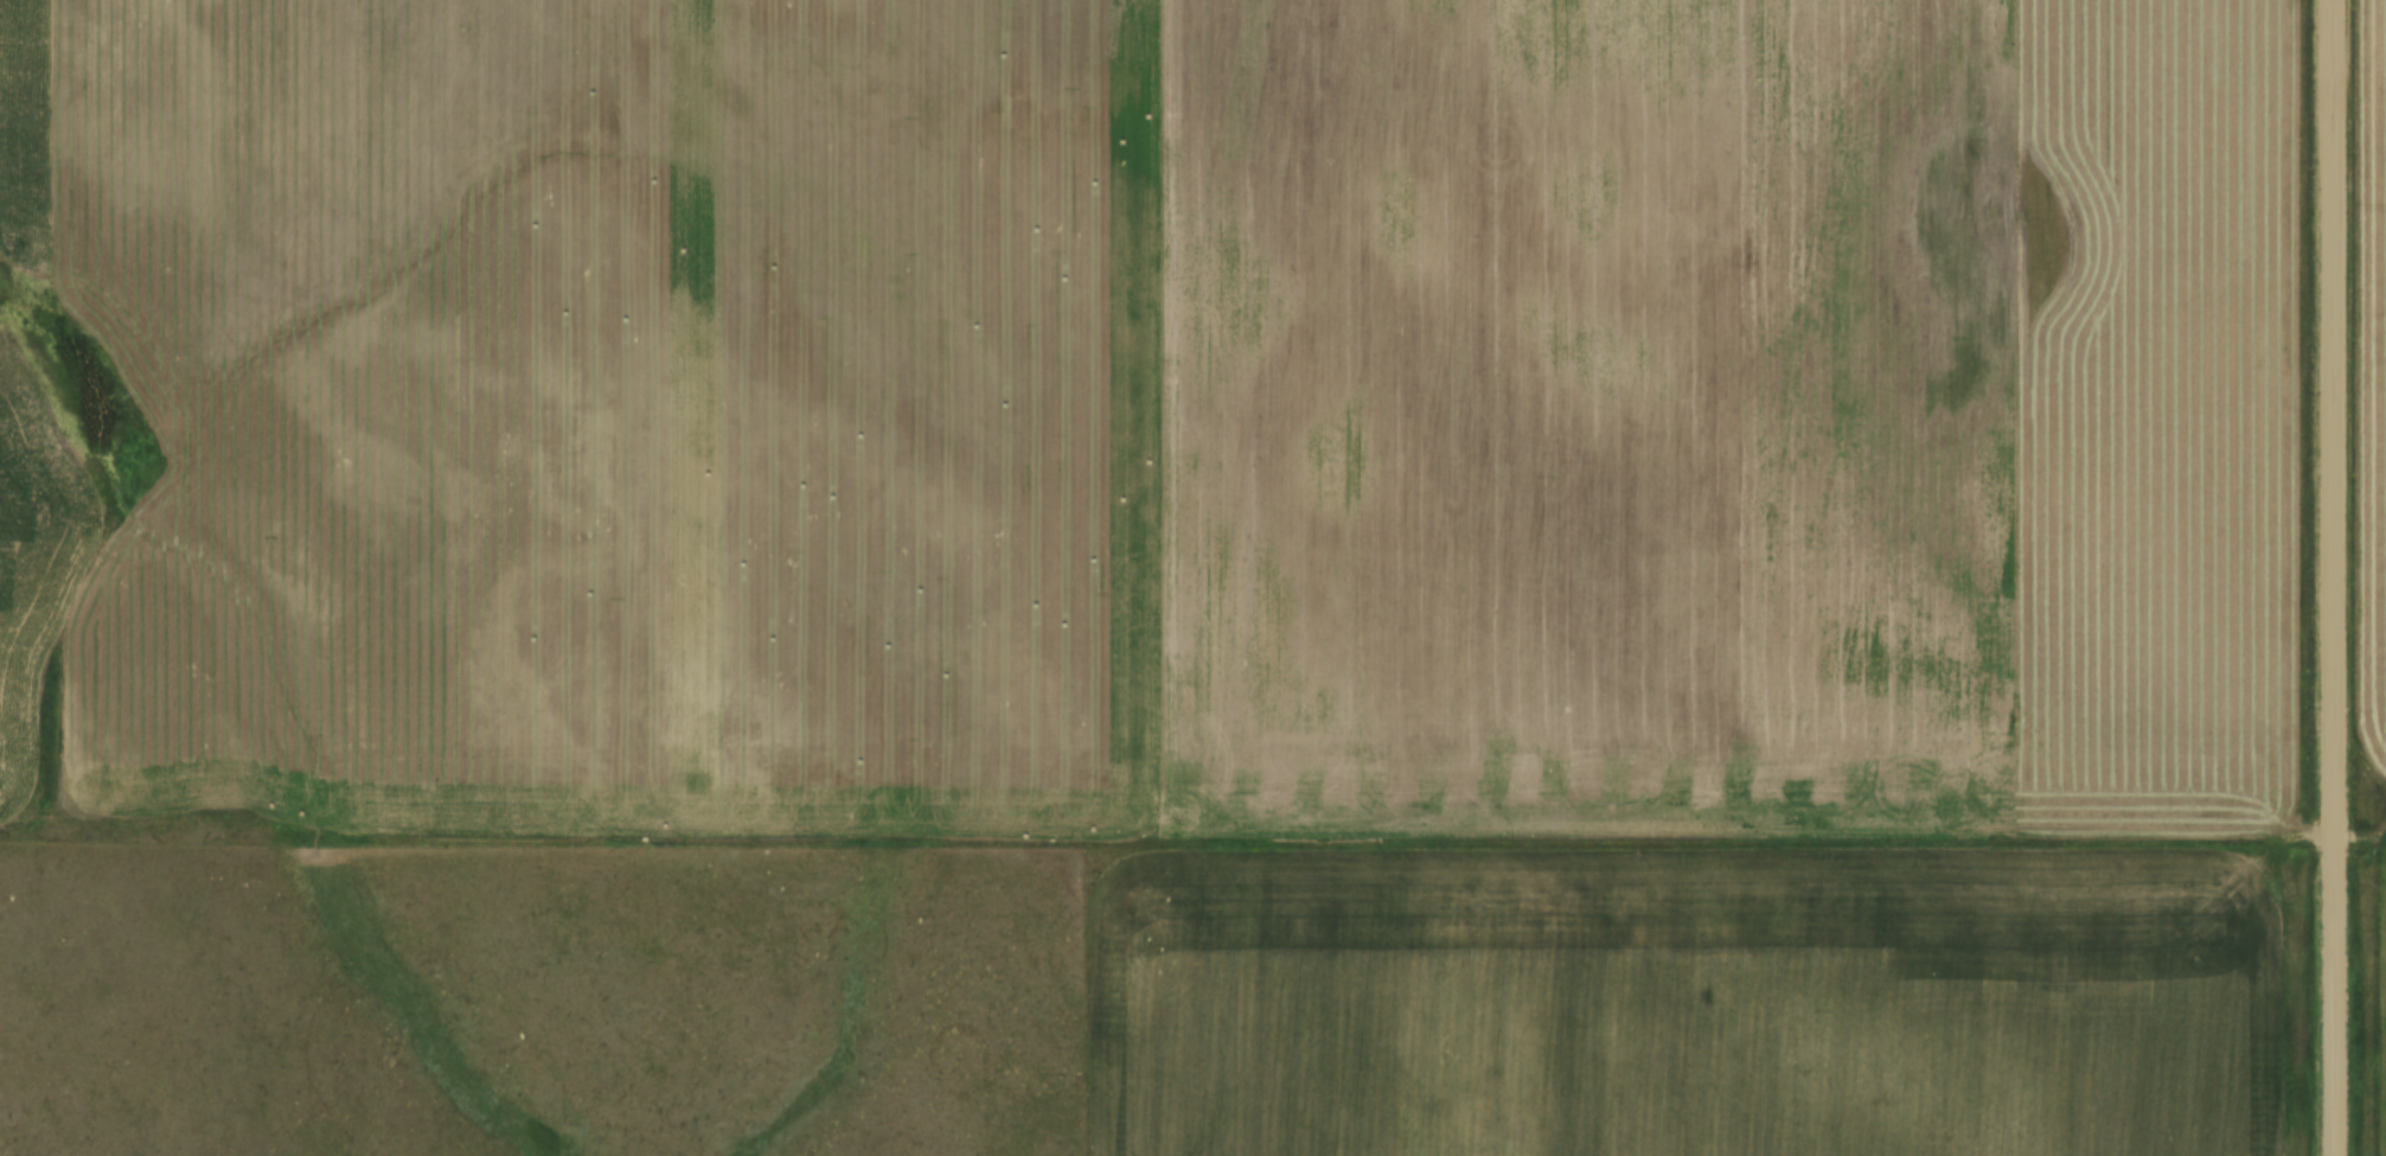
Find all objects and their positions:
road: (2339, 577)

